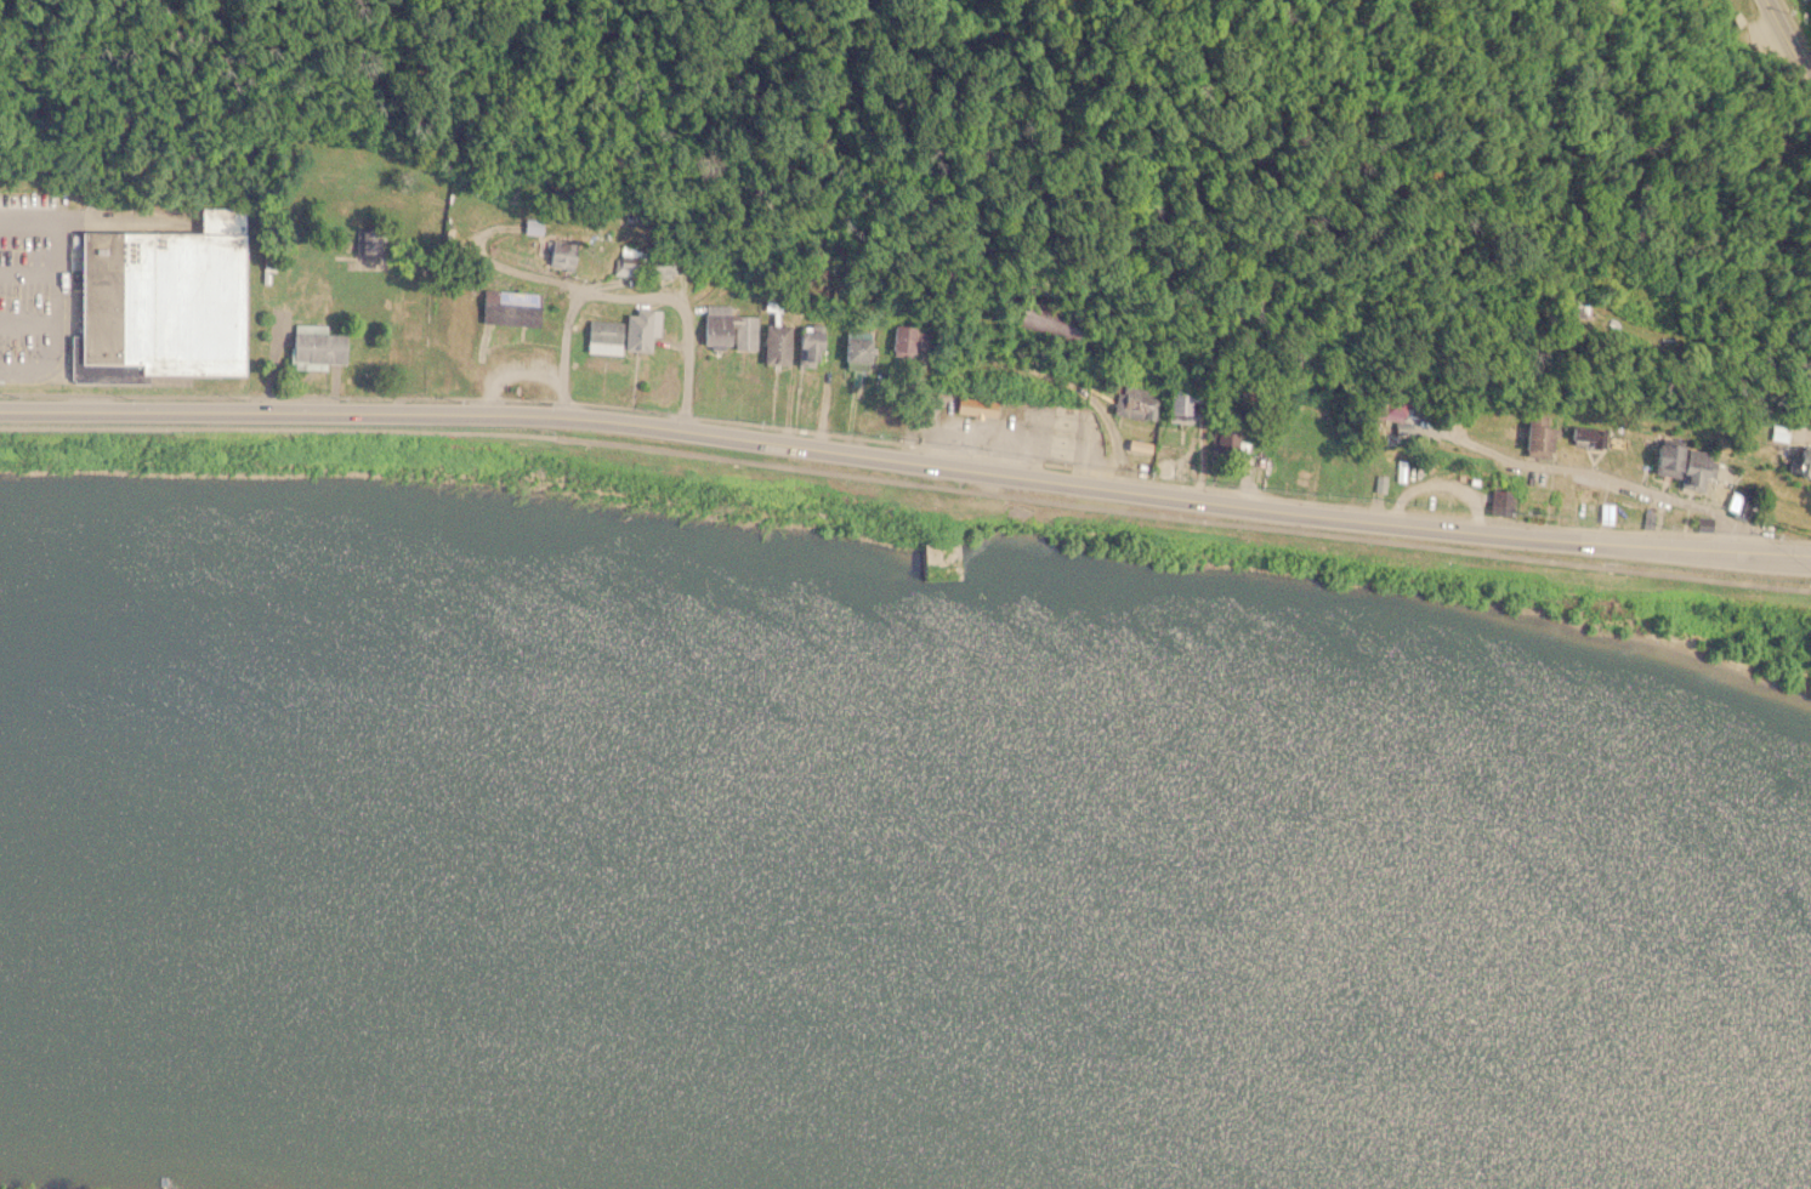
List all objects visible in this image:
road: (1788, 42)
building: (557, 254)
building: (630, 260)
building: (657, 268)
parking lot: (34, 290)
road: (632, 295)
building: (160, 298)
building: (1563, 312)
building: (1048, 322)
building: (728, 329)
building: (636, 331)
building: (602, 337)
building: (902, 341)
building: (776, 345)
building: (316, 347)
building: (806, 348)
building: (856, 352)
building: (1135, 403)
building: (1181, 404)
building: (976, 406)
building: (1389, 406)
building: (1535, 436)
building: (1225, 439)
building: (1665, 457)
road: (907, 459)
building: (1799, 460)
building: (1693, 468)
road: (1610, 479)
road: (907, 480)
building: (1500, 500)
building: (1733, 501)
building: (938, 561)
river: (925, 887)

